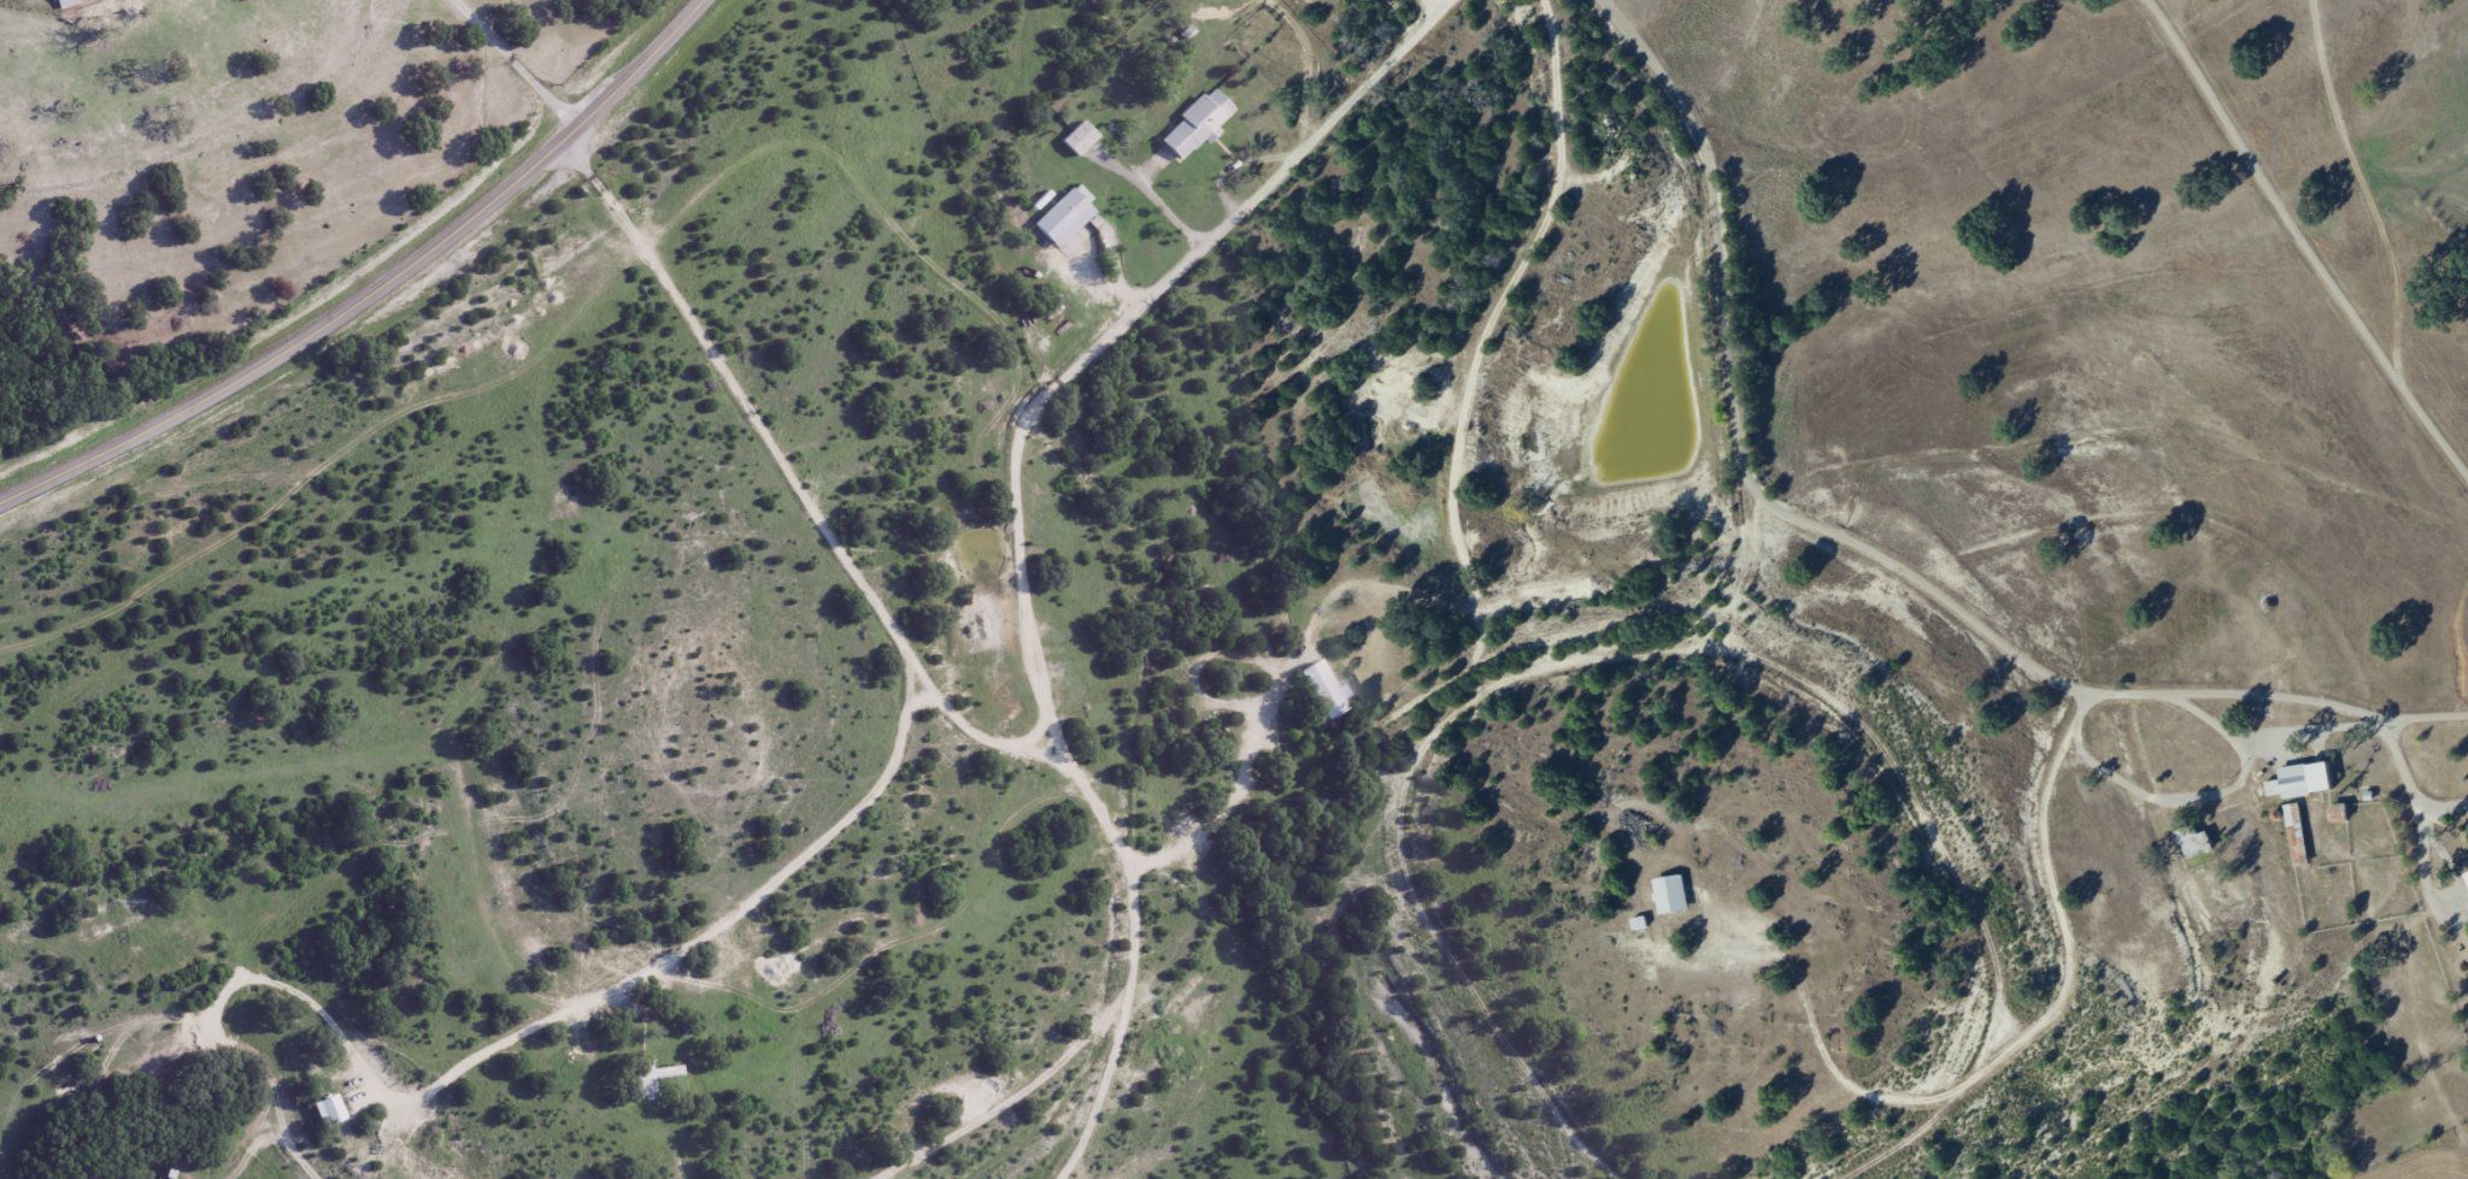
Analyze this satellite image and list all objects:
building: (65, 4)
road: (49, 14)
building: (1194, 126)
building: (1077, 140)
building: (1063, 219)
road: (387, 289)
road: (1738, 314)
road: (781, 452)
building: (1322, 690)
building: (2298, 782)
building: (2337, 814)
building: (2296, 835)
building: (2193, 841)
building: (1670, 895)
road: (950, 907)
road: (1058, 1048)
road: (893, 1078)
building: (653, 1080)

